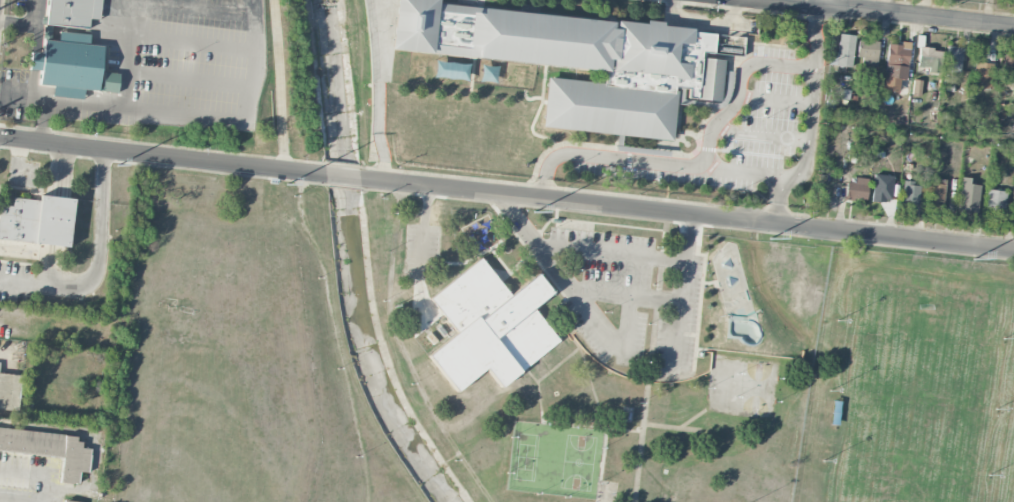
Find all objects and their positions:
road: (822, 3)
road: (189, 8)
road: (883, 13)
road: (704, 20)
road: (19, 23)
road: (37, 25)
road: (818, 37)
road: (771, 43)
road: (192, 44)
building: (70, 51)
road: (761, 52)
building: (843, 52)
building: (867, 52)
road: (127, 54)
road: (493, 58)
building: (929, 59)
building: (953, 59)
road: (35, 60)
building: (578, 60)
building: (896, 65)
building: (1008, 69)
road: (472, 72)
building: (983, 75)
road: (189, 80)
road: (32, 84)
road: (278, 85)
road: (738, 87)
building: (916, 87)
building: (681, 88)
road: (727, 88)
road: (529, 98)
road: (774, 99)
road: (700, 103)
road: (537, 111)
road: (678, 112)
road: (184, 115)
road: (42, 122)
road: (867, 125)
road: (808, 130)
road: (378, 131)
parking lot: (742, 131)
road: (678, 134)
road: (759, 134)
road: (681, 138)
road: (730, 141)
road: (589, 144)
flagpole: (686, 144)
building: (637, 148)
road: (739, 152)
road: (161, 156)
road: (608, 158)
road: (628, 162)
power tower: (117, 165)
road: (743, 172)
road: (341, 176)
power tower: (286, 184)
building: (855, 191)
building: (910, 193)
building: (936, 194)
building: (968, 196)
road: (778, 200)
building: (994, 201)
power tower: (534, 212)
road: (686, 214)
building: (37, 221)
road: (686, 238)
power tower: (771, 238)
road: (537, 241)
road: (420, 250)
road: (612, 253)
power tower: (974, 260)
road: (97, 263)
road: (602, 292)
park: (735, 295)
parking lot: (631, 297)
road: (627, 316)
road: (12, 321)
building: (490, 329)
road: (675, 332)
park: (548, 356)
park: (756, 387)
building: (9, 391)
road: (95, 433)
building: (49, 450)
park: (526, 456)
park: (578, 462)
road: (25, 469)
road: (48, 481)
road: (23, 499)
building: (68, 501)

